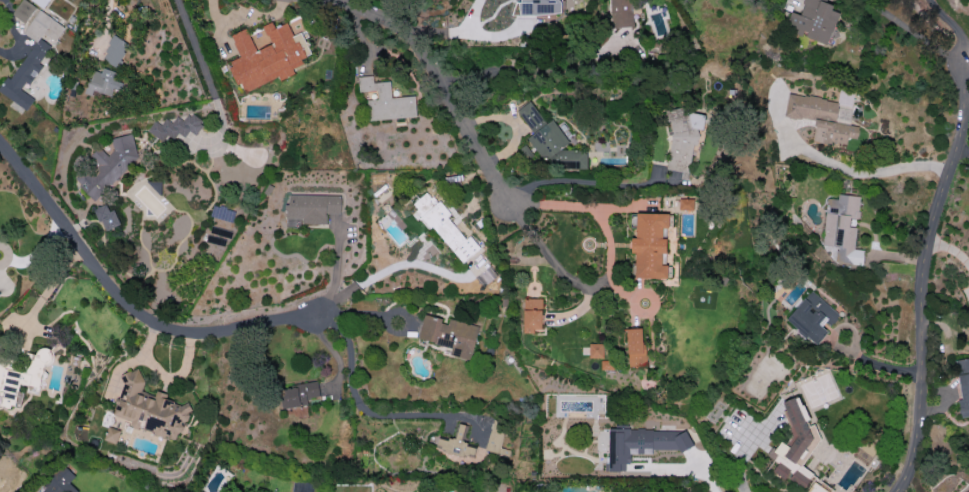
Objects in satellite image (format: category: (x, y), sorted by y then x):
building: (40, 2)
building: (540, 7)
building: (24, 11)
building: (620, 13)
road: (946, 17)
building: (813, 20)
road: (917, 35)
building: (114, 51)
road: (968, 53)
building: (266, 56)
building: (31, 58)
road: (198, 58)
road: (525, 63)
road: (431, 71)
building: (102, 83)
road: (966, 97)
building: (385, 101)
building: (530, 116)
building: (825, 116)
building: (175, 128)
building: (683, 140)
building: (556, 147)
building: (107, 165)
road: (869, 172)
road: (574, 182)
building: (685, 204)
building: (312, 207)
building: (106, 217)
building: (443, 226)
building: (842, 228)
building: (649, 245)
road: (951, 249)
road: (925, 260)
road: (397, 265)
road: (336, 266)
road: (606, 268)
building: (0, 294)
road: (126, 305)
road: (359, 314)
building: (532, 315)
building: (812, 317)
road: (850, 330)
building: (449, 335)
building: (635, 347)
building: (595, 350)
road: (872, 363)
building: (606, 365)
building: (21, 375)
building: (963, 386)
building: (297, 394)
road: (355, 398)
building: (149, 408)
building: (112, 435)
building: (495, 435)
building: (456, 443)
building: (641, 444)
building: (797, 449)
road: (739, 460)
road: (708, 479)

